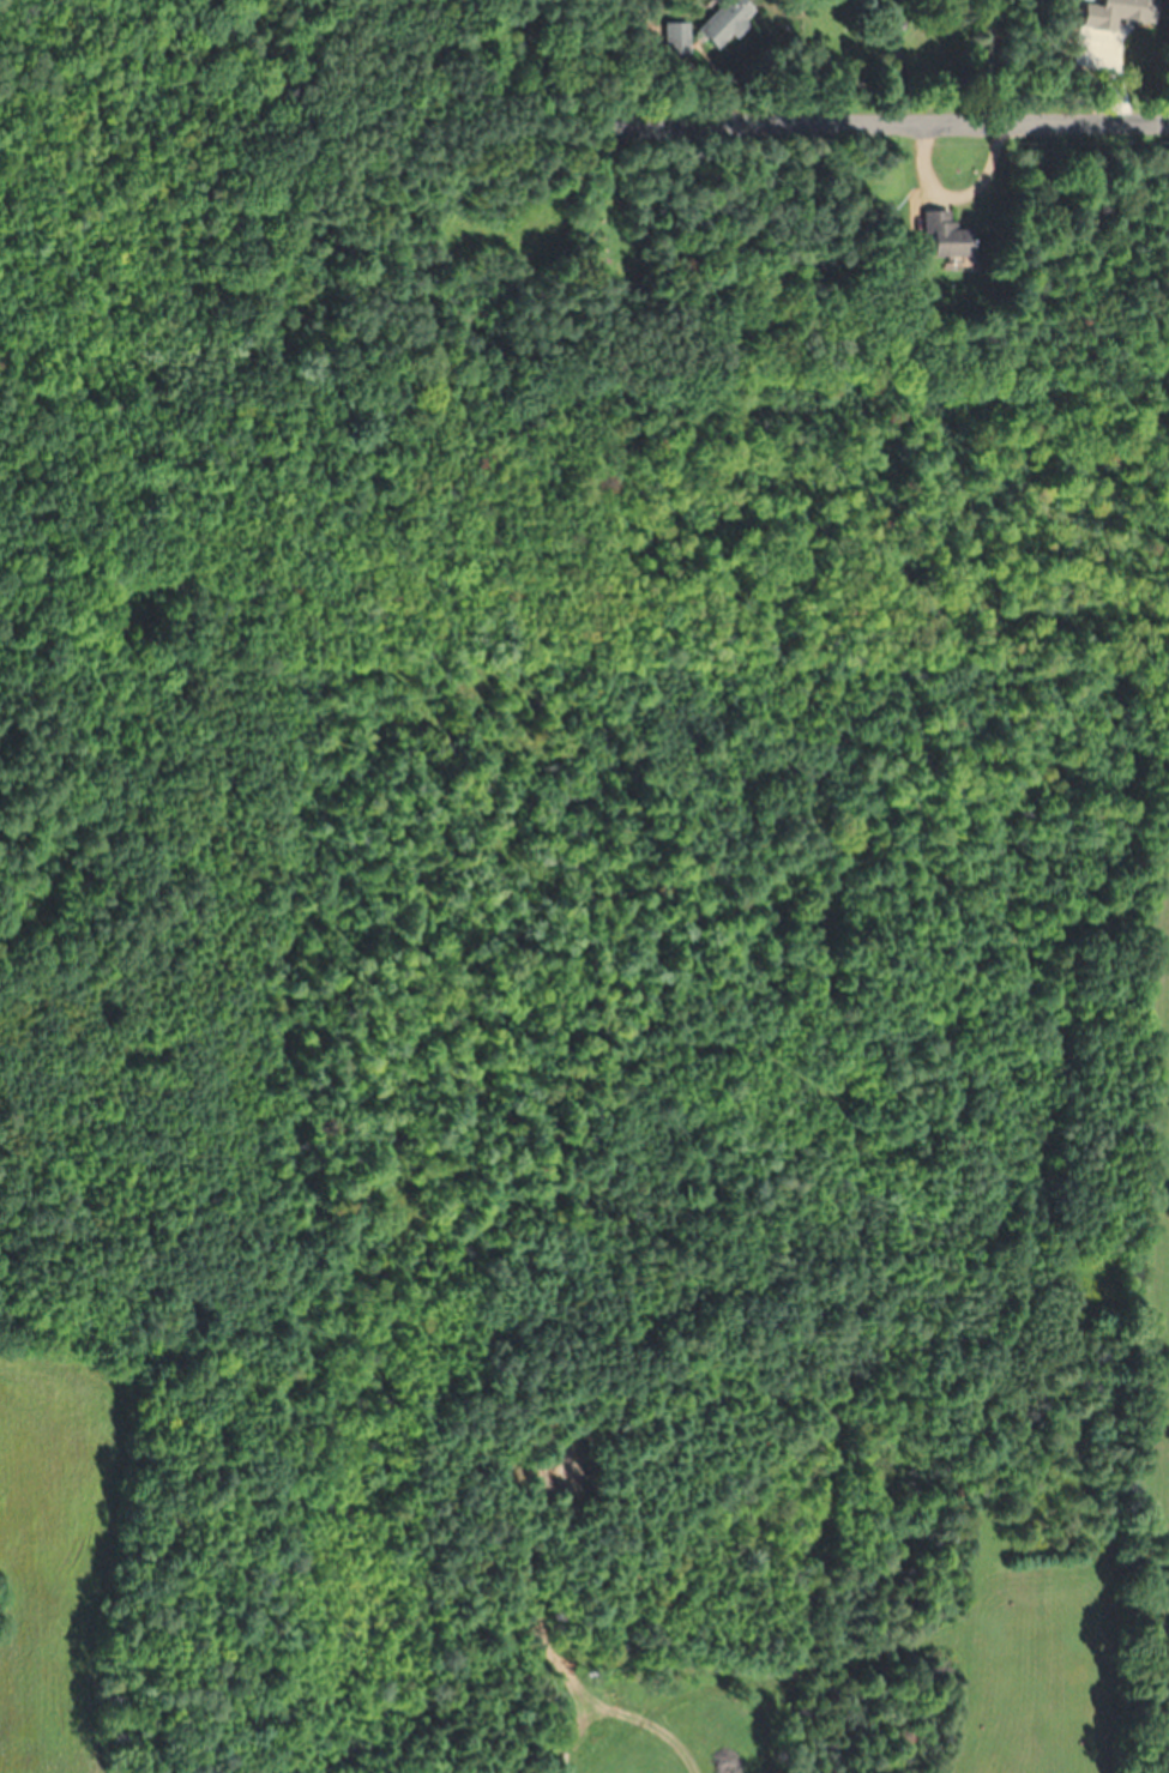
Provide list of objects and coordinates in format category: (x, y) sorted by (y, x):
building: (727, 20)
road: (902, 121)
building: (947, 236)

